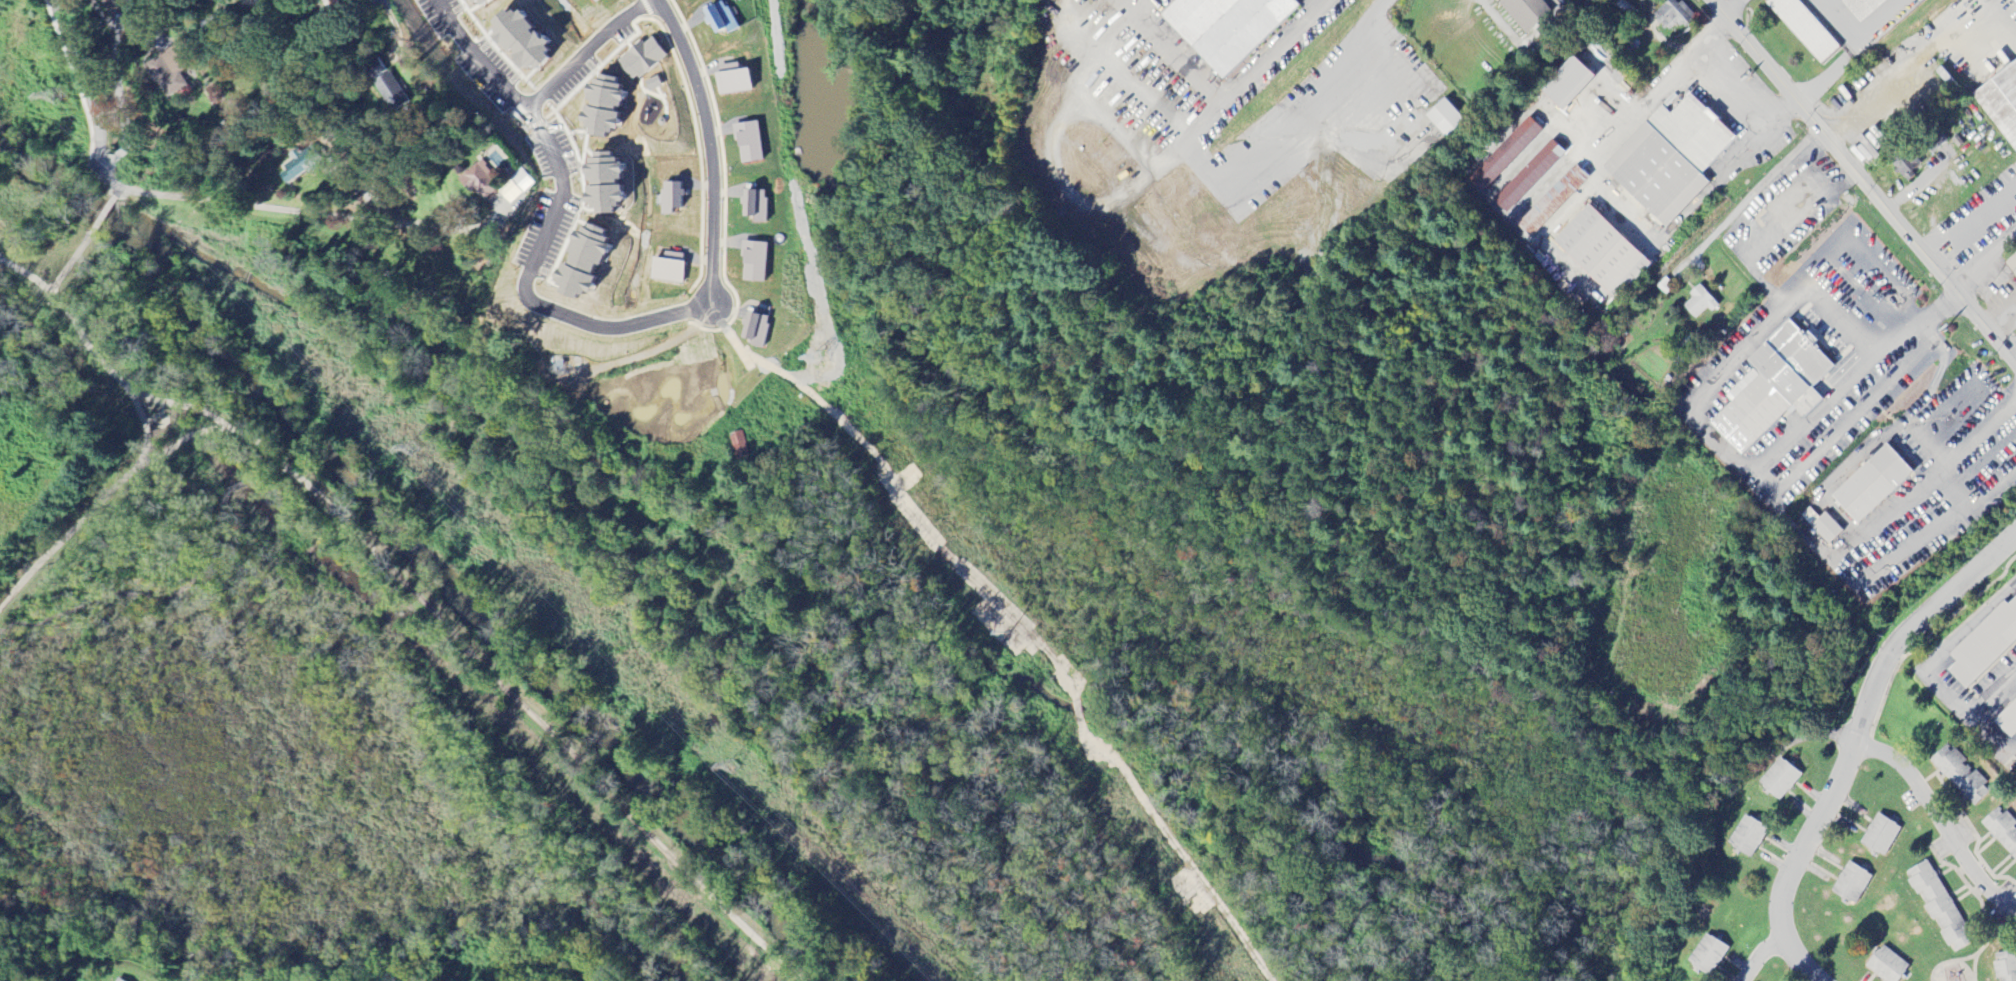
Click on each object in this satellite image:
building: (461, 1)
building: (591, 1)
building: (330, 2)
building: (475, 2)
building: (2013, 2)
road: (1729, 6)
building: (1861, 8)
building: (1524, 12)
building: (1673, 14)
building: (719, 18)
building: (1221, 26)
building: (1804, 29)
building: (513, 42)
road: (479, 52)
road: (583, 53)
road: (1849, 53)
building: (640, 60)
building: (167, 75)
building: (732, 80)
building: (1565, 85)
road: (118, 90)
building: (386, 92)
power tower: (53, 95)
road: (1224, 98)
building: (2001, 103)
building: (597, 107)
building: (1443, 118)
road: (1859, 135)
building: (748, 143)
road: (713, 152)
building: (1504, 155)
building: (1917, 155)
building: (1668, 160)
building: (292, 170)
building: (1527, 178)
building: (476, 180)
building: (519, 182)
building: (598, 183)
road: (1864, 183)
road: (118, 192)
road: (1904, 193)
building: (669, 198)
road: (197, 200)
building: (1551, 202)
building: (754, 206)
road: (1617, 208)
road: (102, 216)
building: (1599, 253)
road: (54, 258)
road: (1876, 259)
building: (577, 263)
building: (753, 263)
road: (1987, 263)
building: (2011, 265)
road: (4, 266)
building: (666, 268)
road: (532, 288)
building: (1698, 303)
road: (2000, 318)
park: (83, 326)
building: (754, 330)
road: (2011, 353)
building: (1772, 389)
road: (178, 405)
road: (161, 408)
road: (148, 419)
road: (158, 424)
road: (1928, 424)
road: (146, 433)
road: (179, 441)
road: (1716, 442)
power tower: (408, 449)
building: (737, 450)
road: (282, 470)
building: (1871, 485)
building: (1826, 529)
road: (170, 597)
building: (1984, 644)
road: (1929, 667)
road: (515, 700)
park: (373, 704)
building: (2007, 720)
road: (1854, 742)
power tower: (731, 767)
building: (1956, 774)
building: (1779, 779)
road: (1939, 820)
building: (2001, 831)
building: (1879, 836)
building: (1747, 837)
building: (1850, 884)
building: (1937, 905)
building: (1707, 955)
road: (1759, 957)
building: (1885, 965)
building: (2005, 966)
building: (121, 980)

